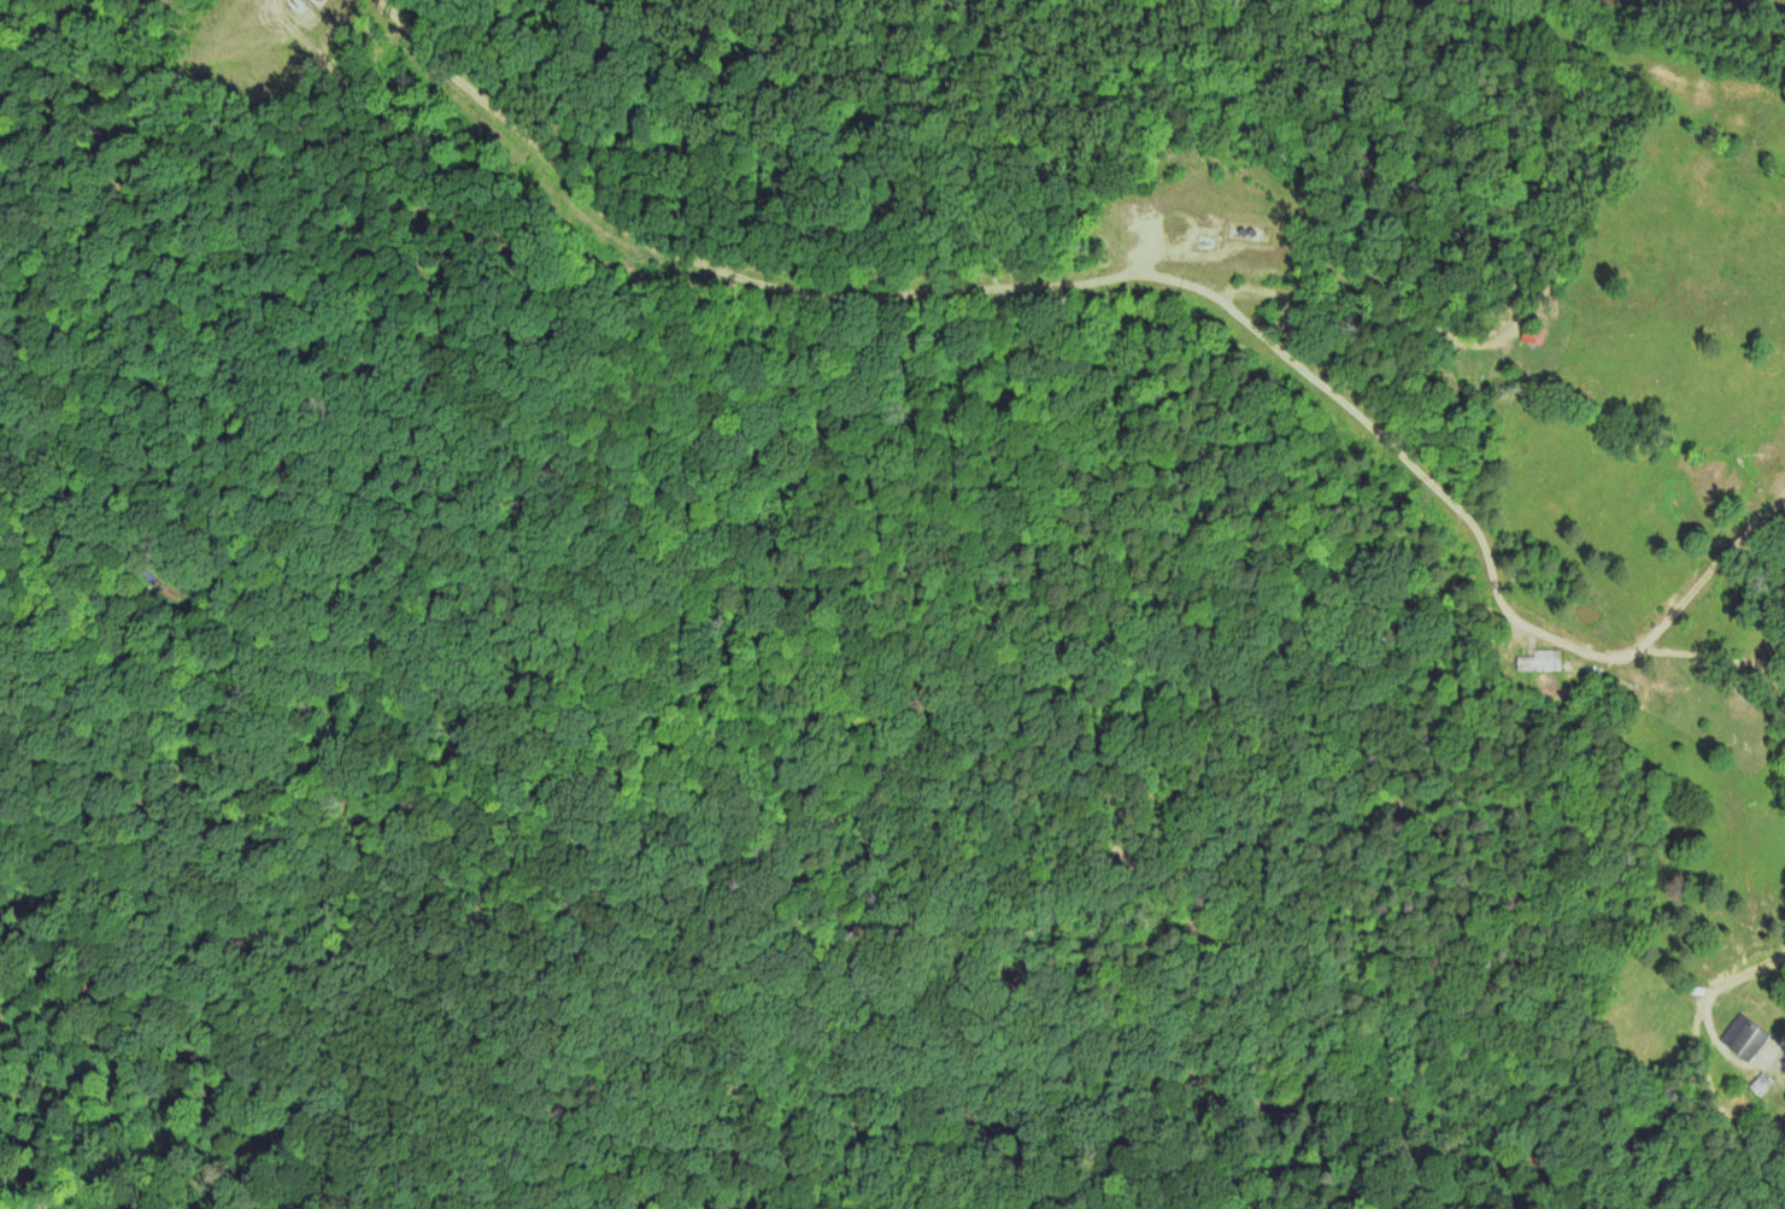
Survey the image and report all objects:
road: (1756, 1)
building: (1539, 659)
building: (1743, 1035)
road: (1726, 1049)

